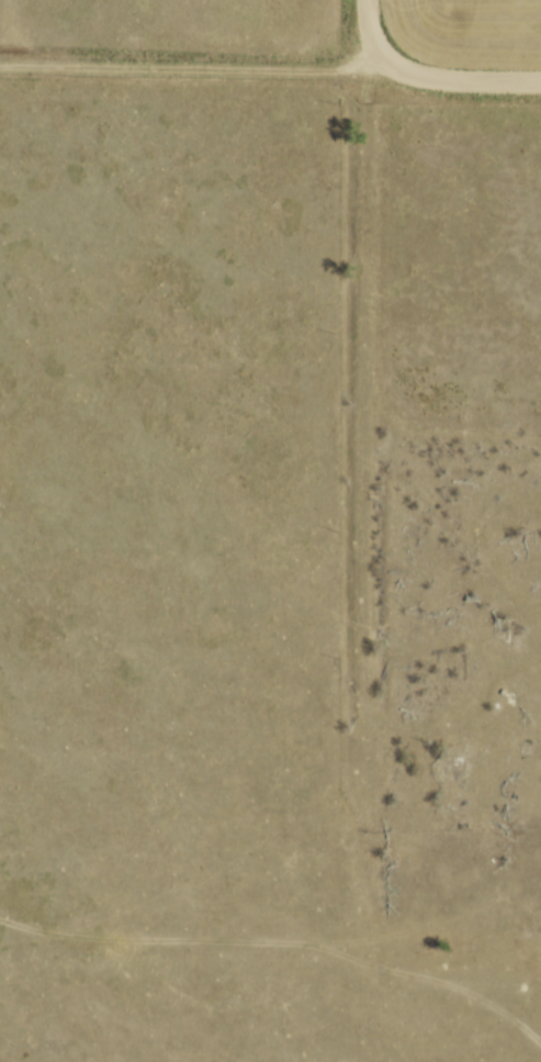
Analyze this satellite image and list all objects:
road: (368, 24)
road: (278, 69)

